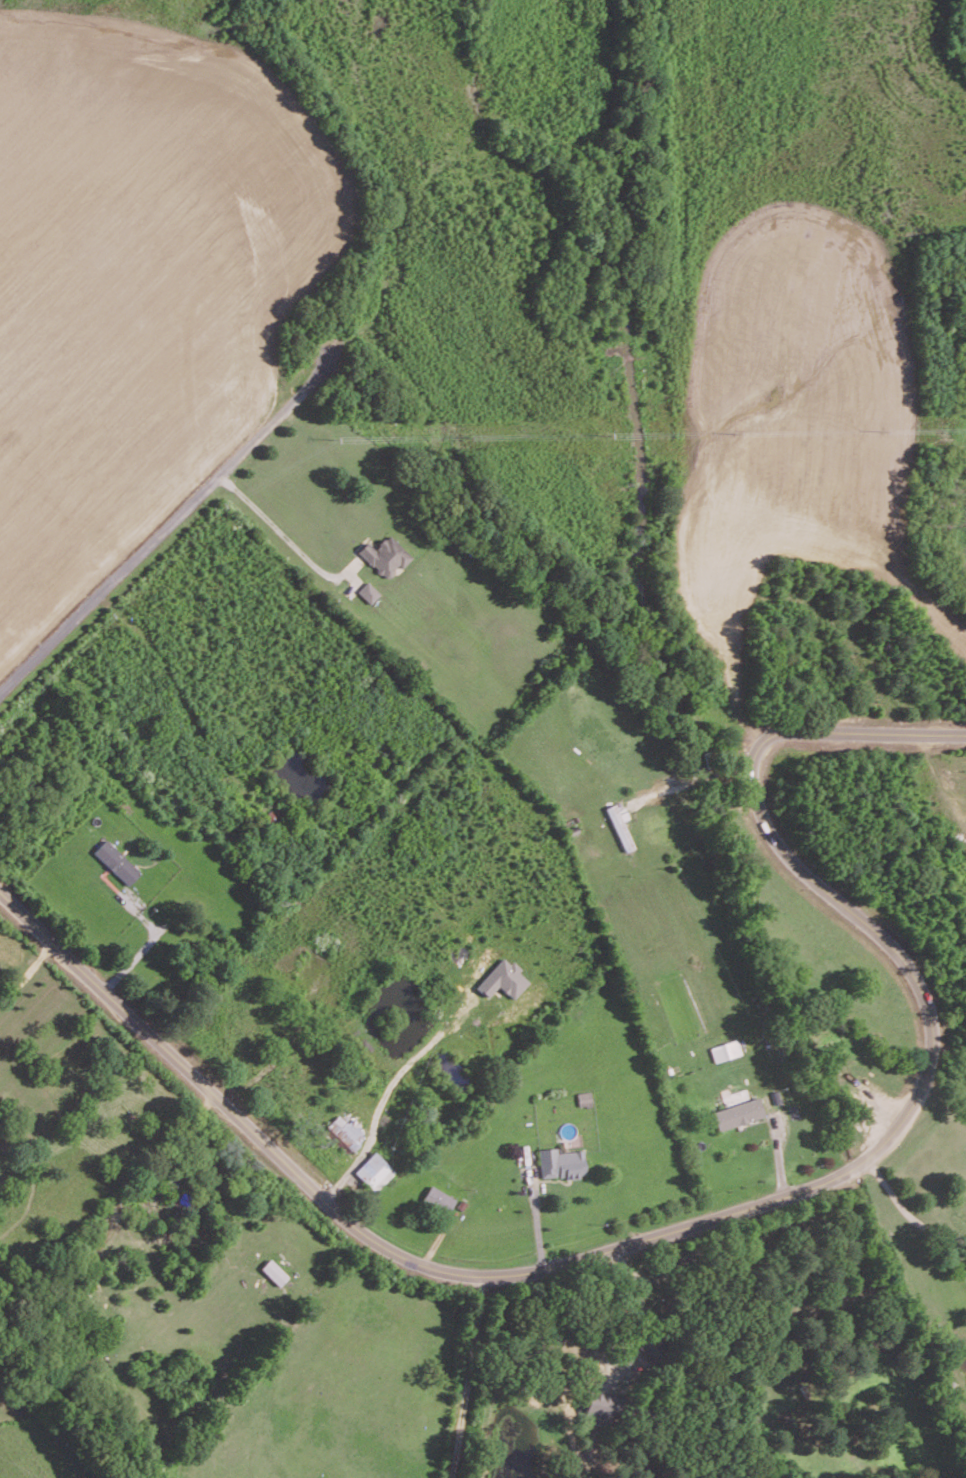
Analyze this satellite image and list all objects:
road: (278, 529)
building: (385, 555)
road: (136, 558)
building: (368, 591)
road: (850, 732)
road: (692, 779)
building: (116, 861)
road: (26, 974)
building: (502, 978)
building: (724, 1049)
building: (737, 1112)
road: (376, 1114)
building: (344, 1130)
road: (778, 1147)
building: (560, 1162)
building: (375, 1170)
building: (439, 1198)
road: (908, 1211)
road: (539, 1217)
road: (614, 1248)
building: (274, 1271)
building: (598, 1407)

